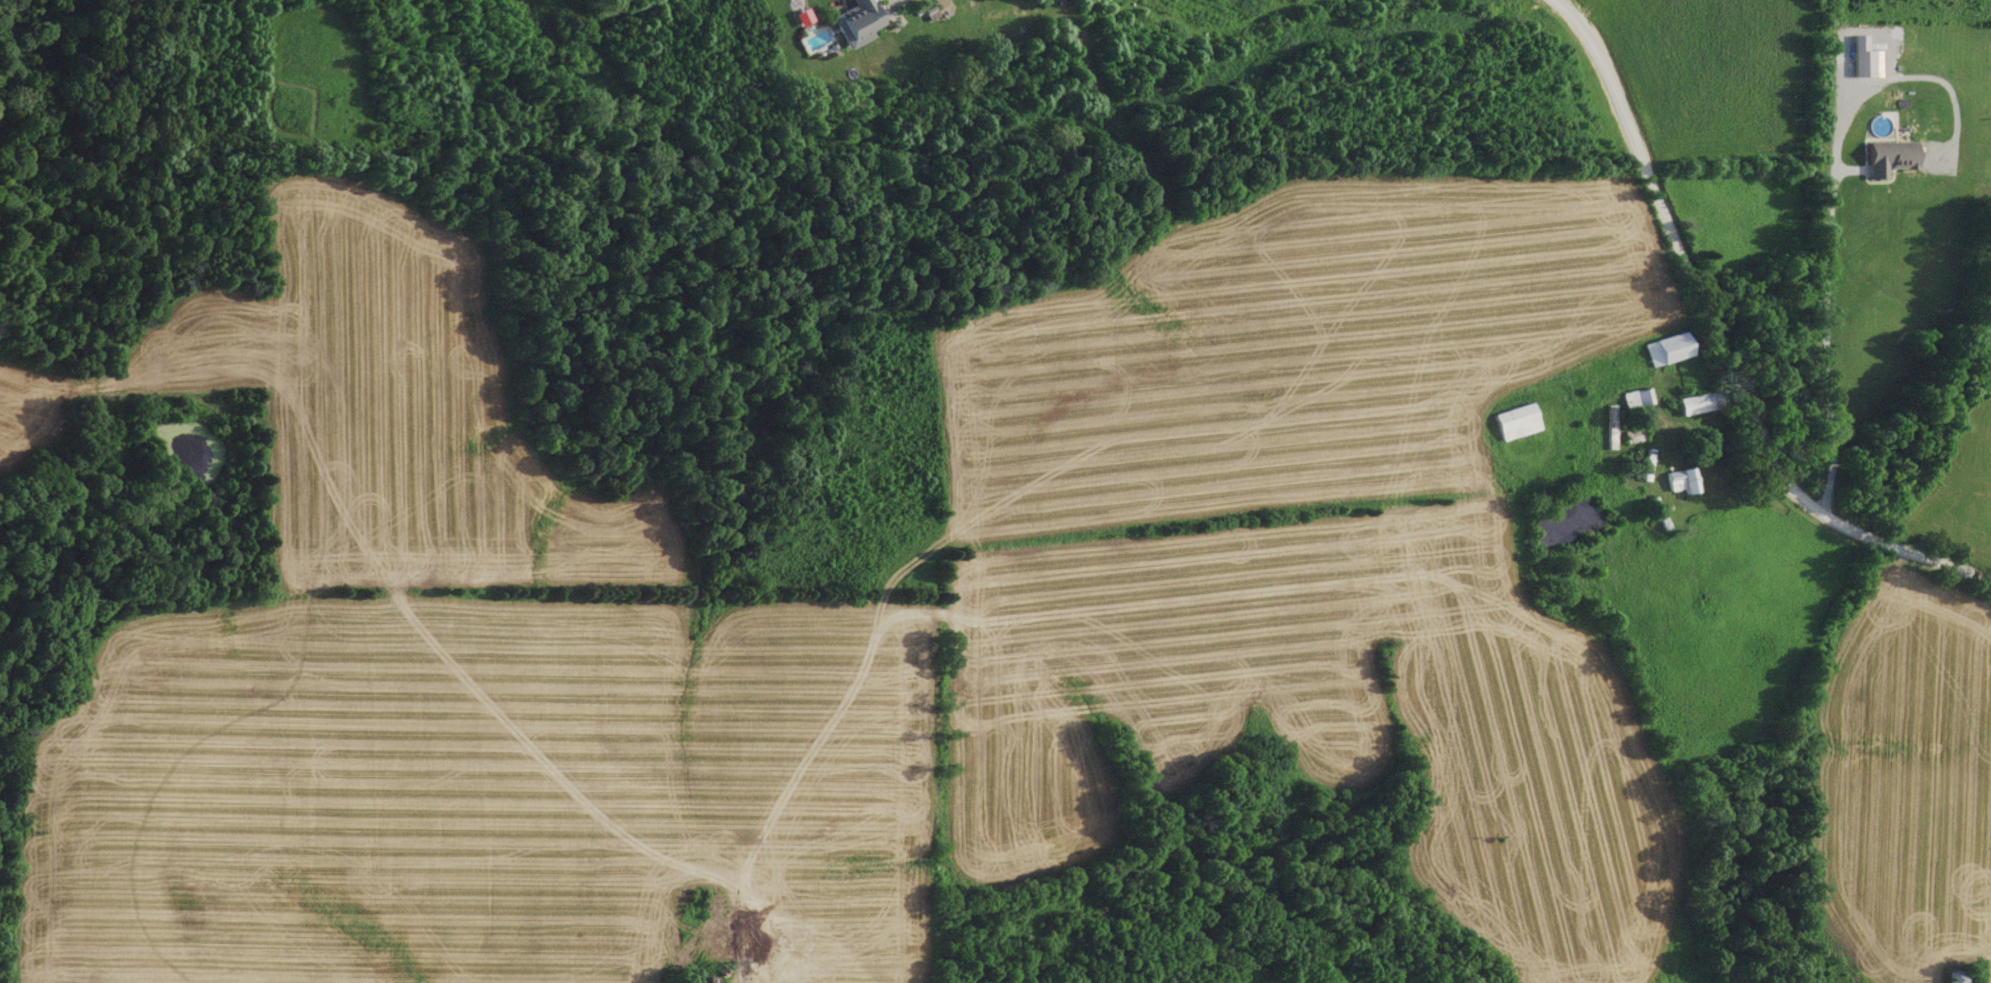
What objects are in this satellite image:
building: (853, 22)
building: (1885, 158)
road: (1723, 342)
building: (1665, 350)
building: (1635, 398)
building: (1697, 404)
building: (1513, 423)
building: (1679, 481)
building: (1953, 977)

